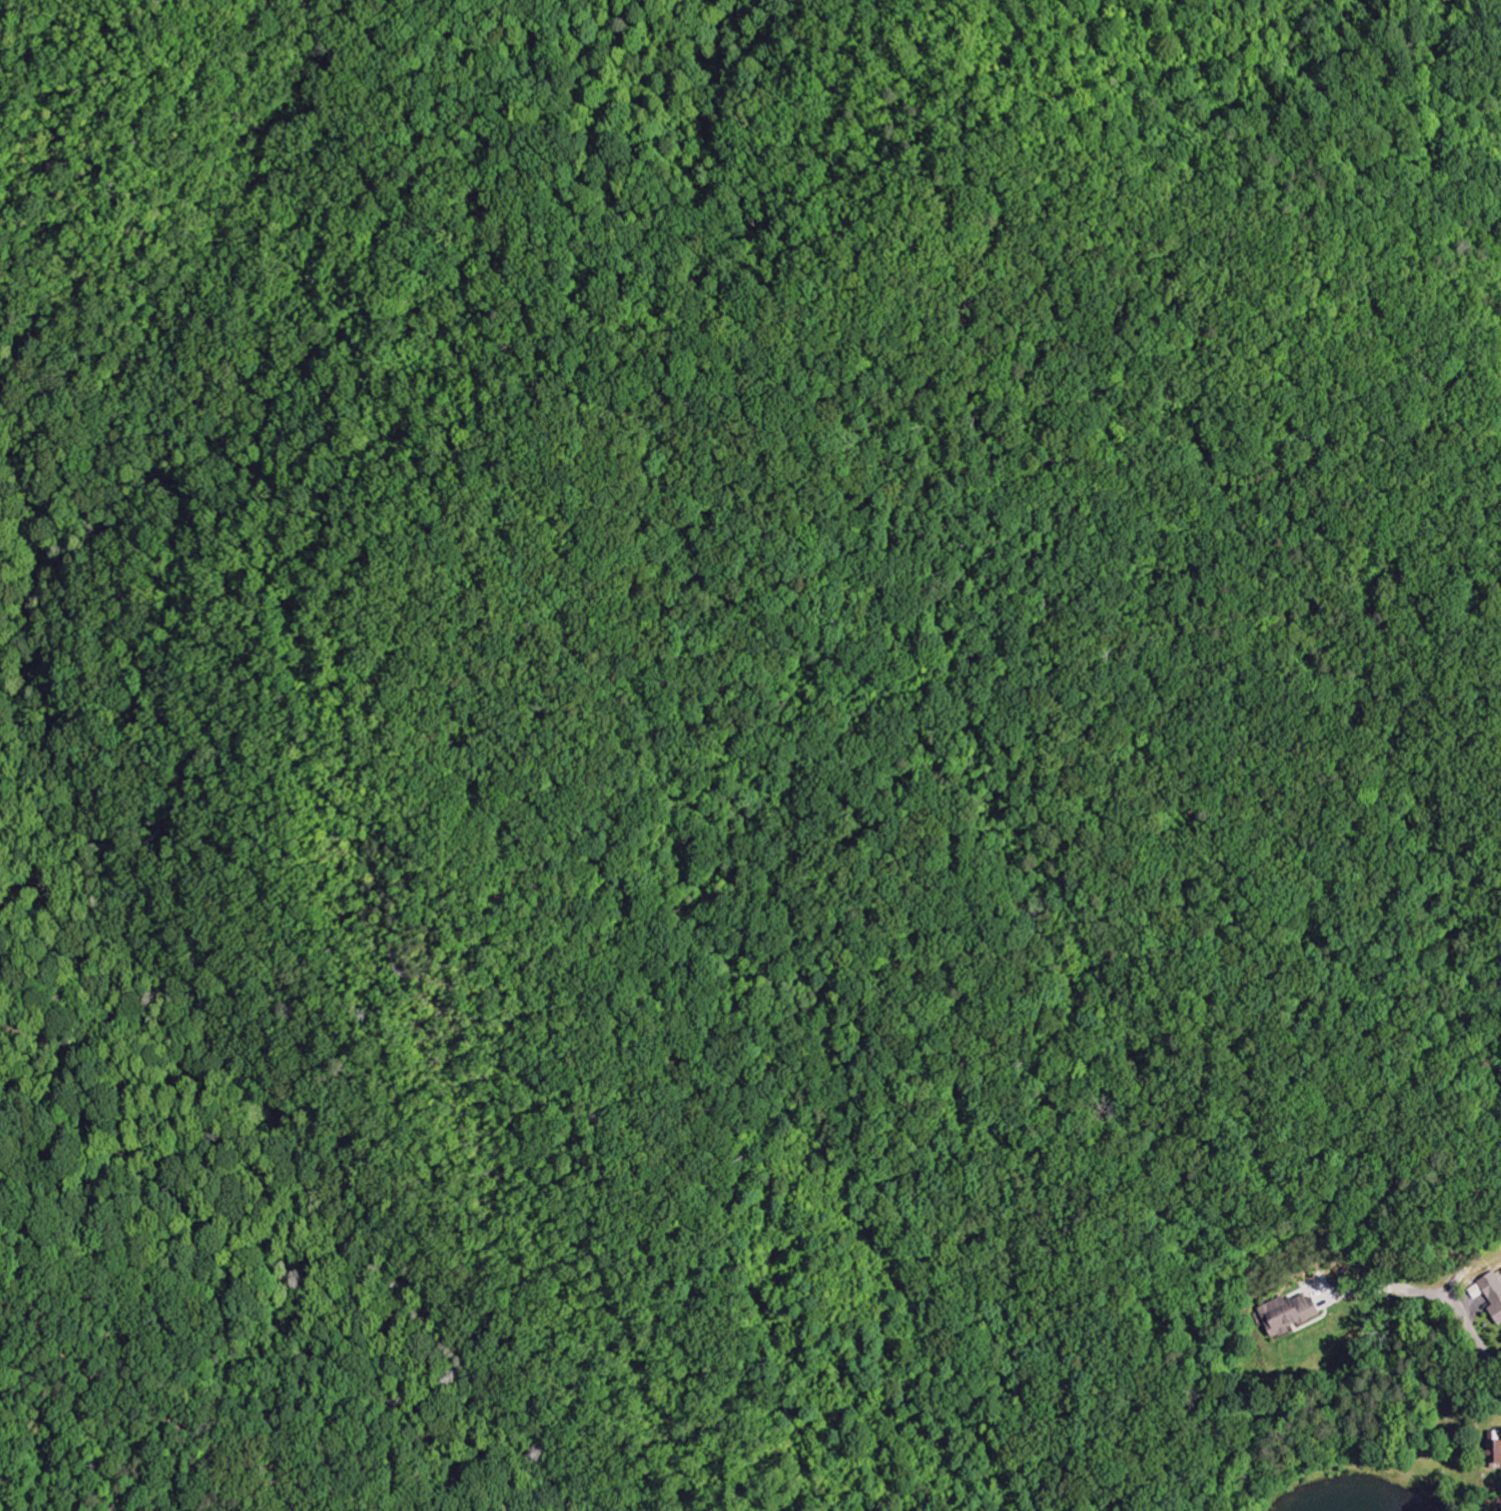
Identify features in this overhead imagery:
building: (1489, 1291)
building: (1291, 1314)
road: (1471, 1328)
building: (1494, 1453)

